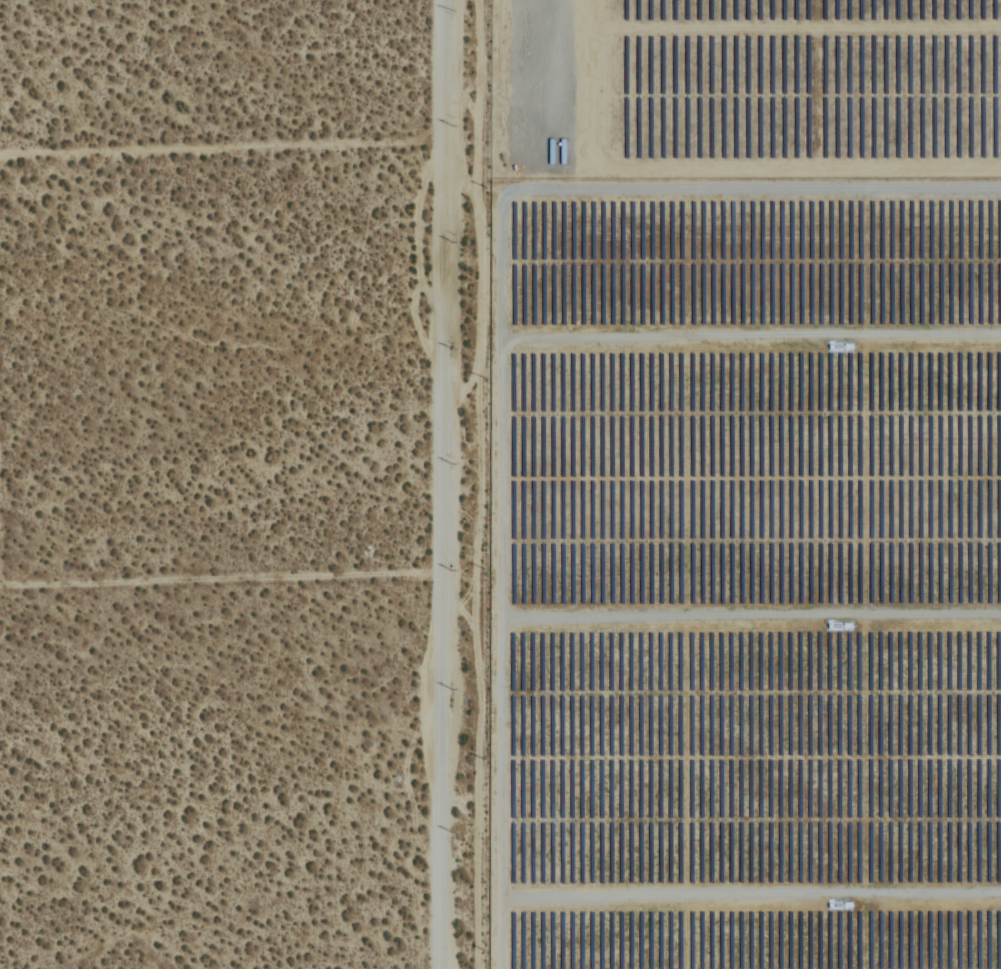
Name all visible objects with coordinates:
solar farm: (742, 86)
road: (219, 147)
road: (438, 484)
solar farm: (742, 571)

